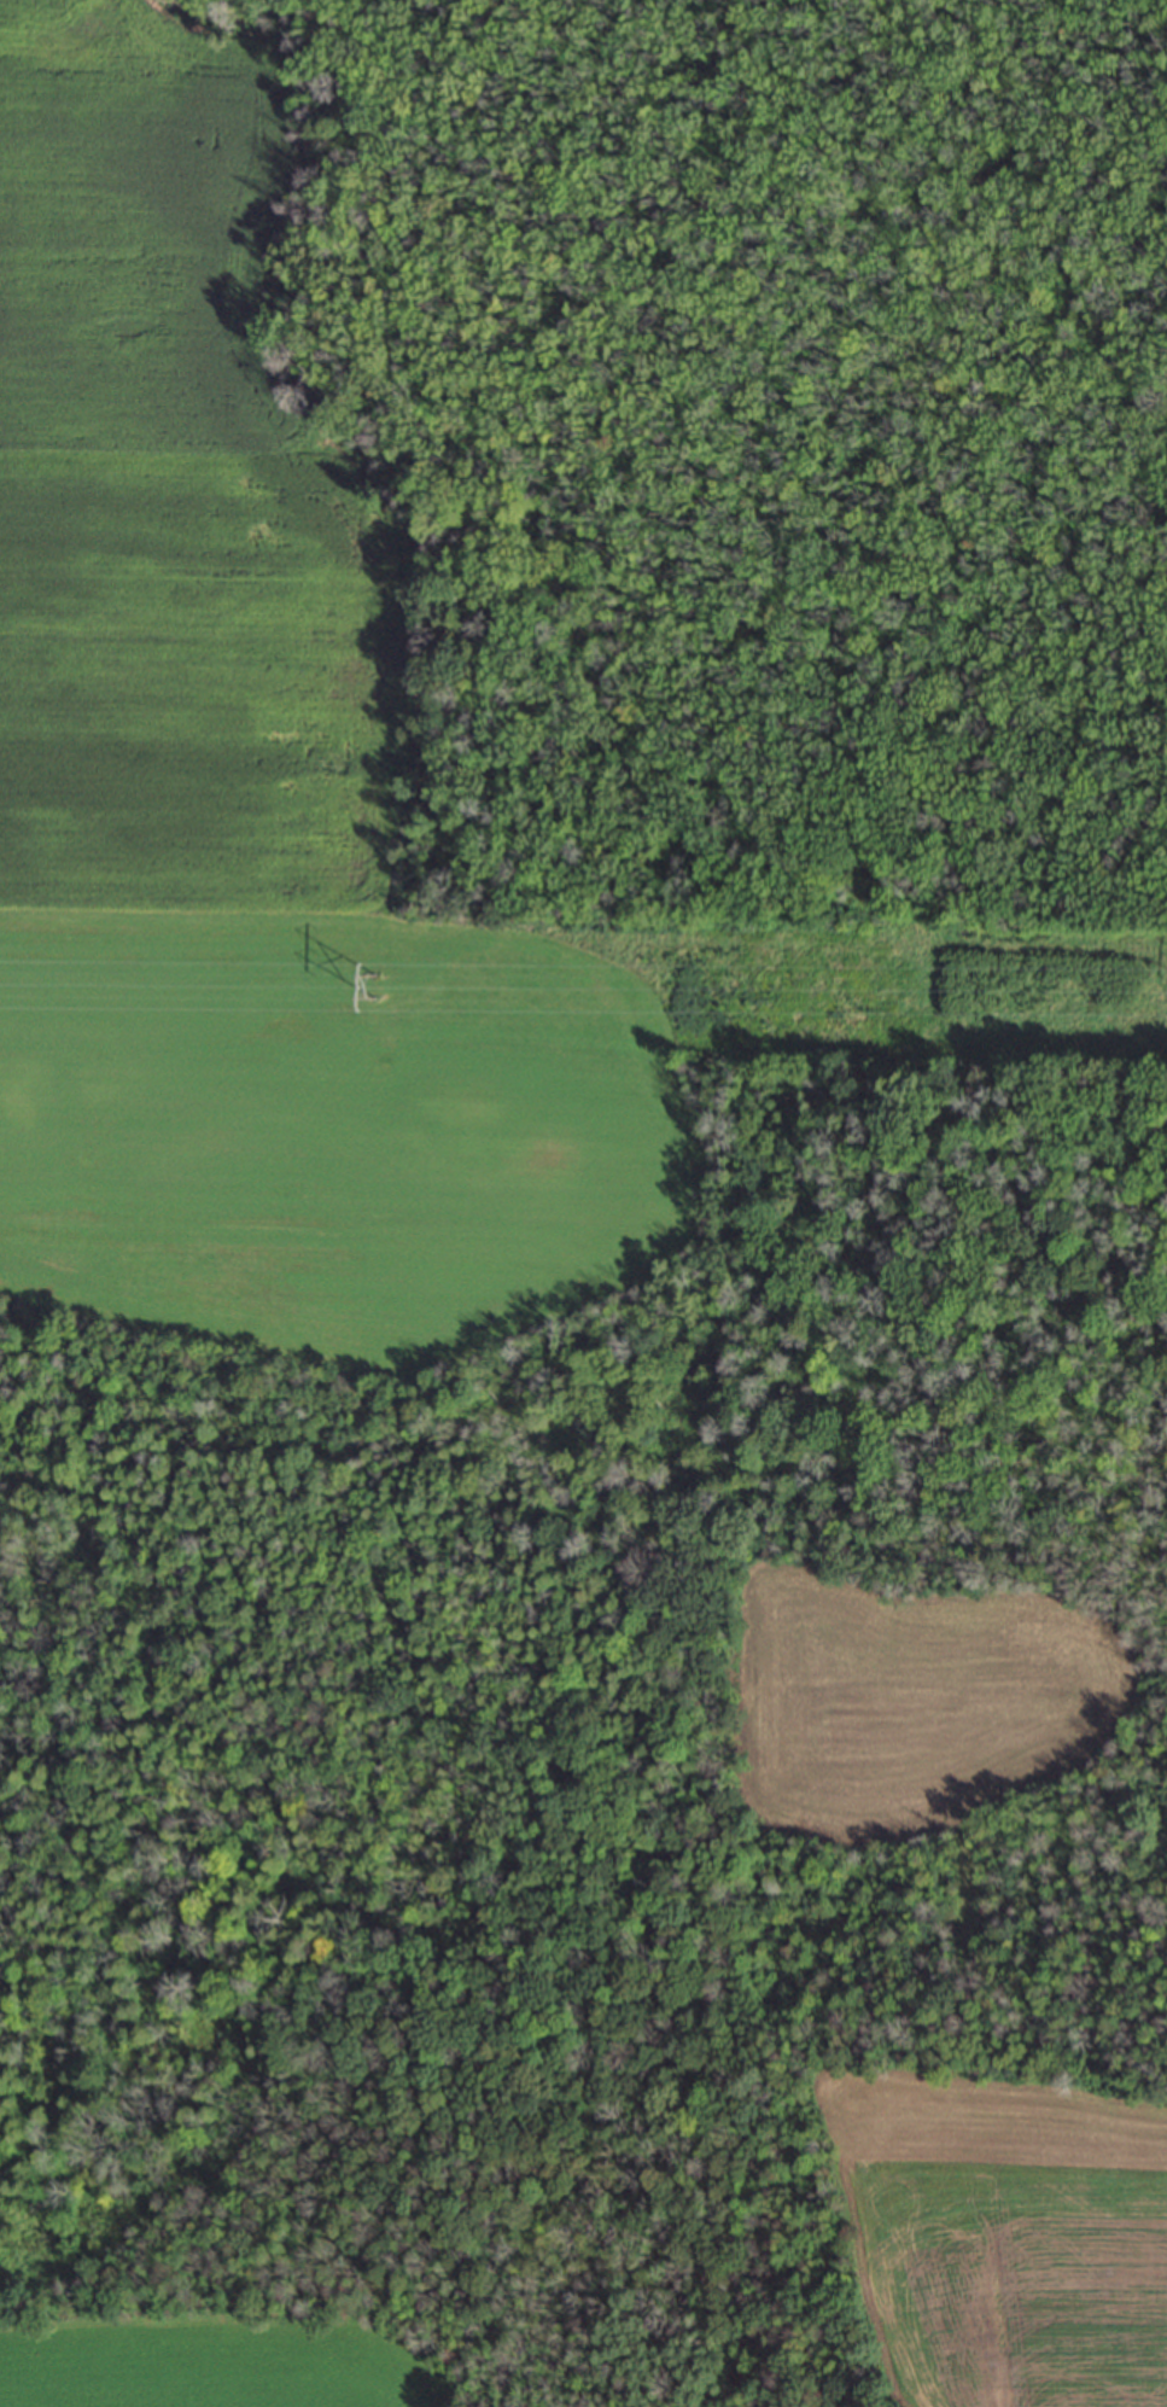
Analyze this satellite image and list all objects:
power tower: (373, 983)

